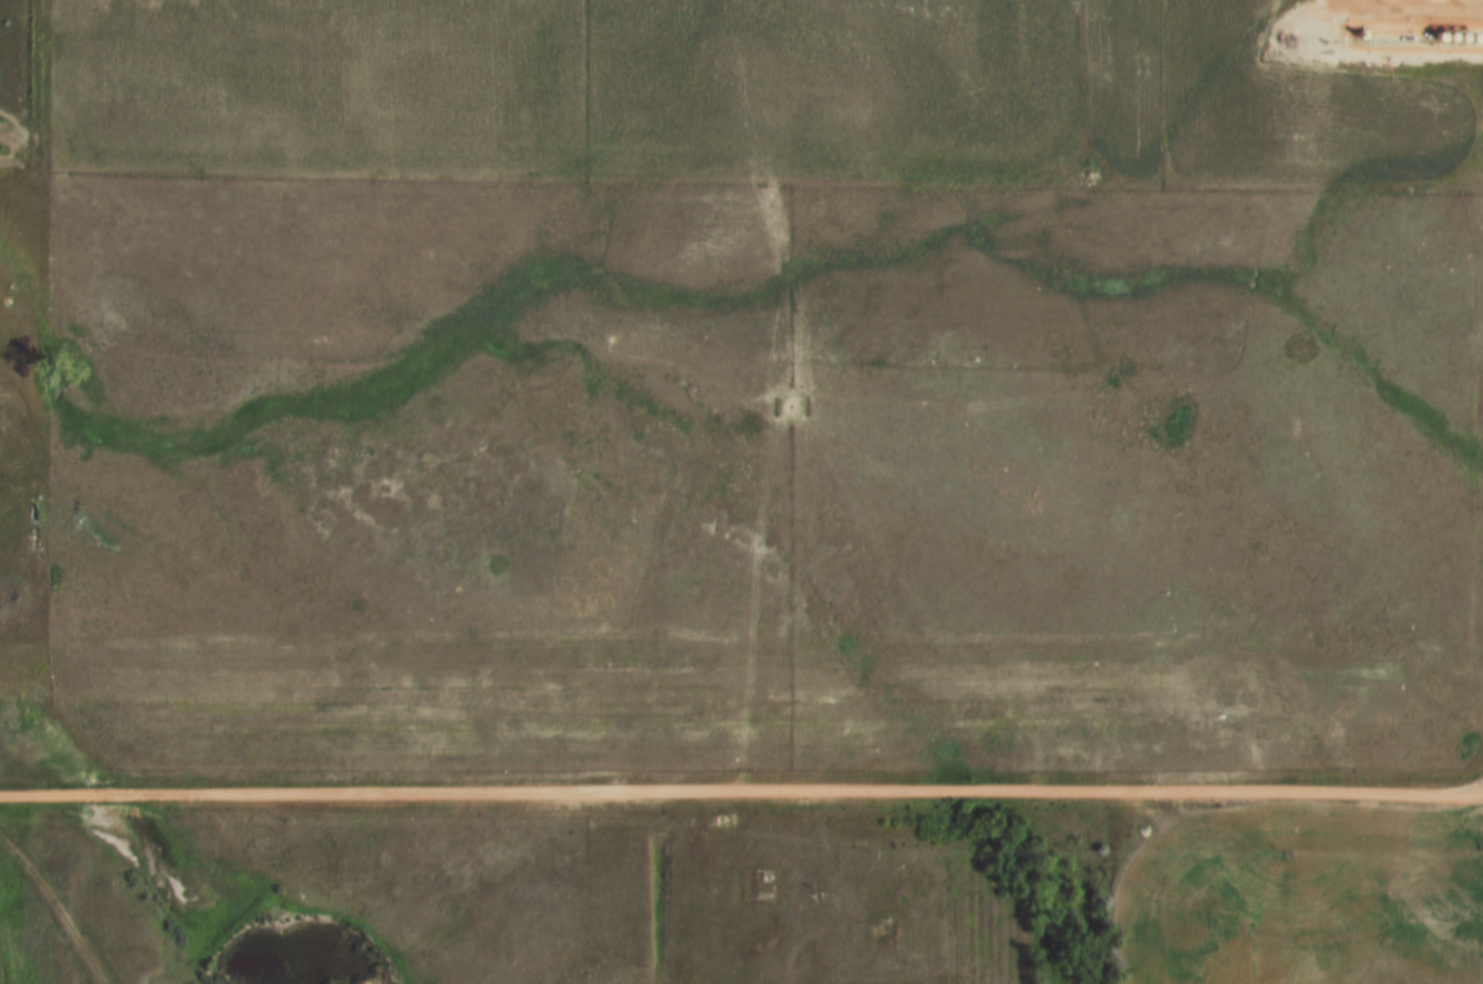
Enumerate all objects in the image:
road: (1416, 14)
road: (743, 787)
road: (53, 910)

